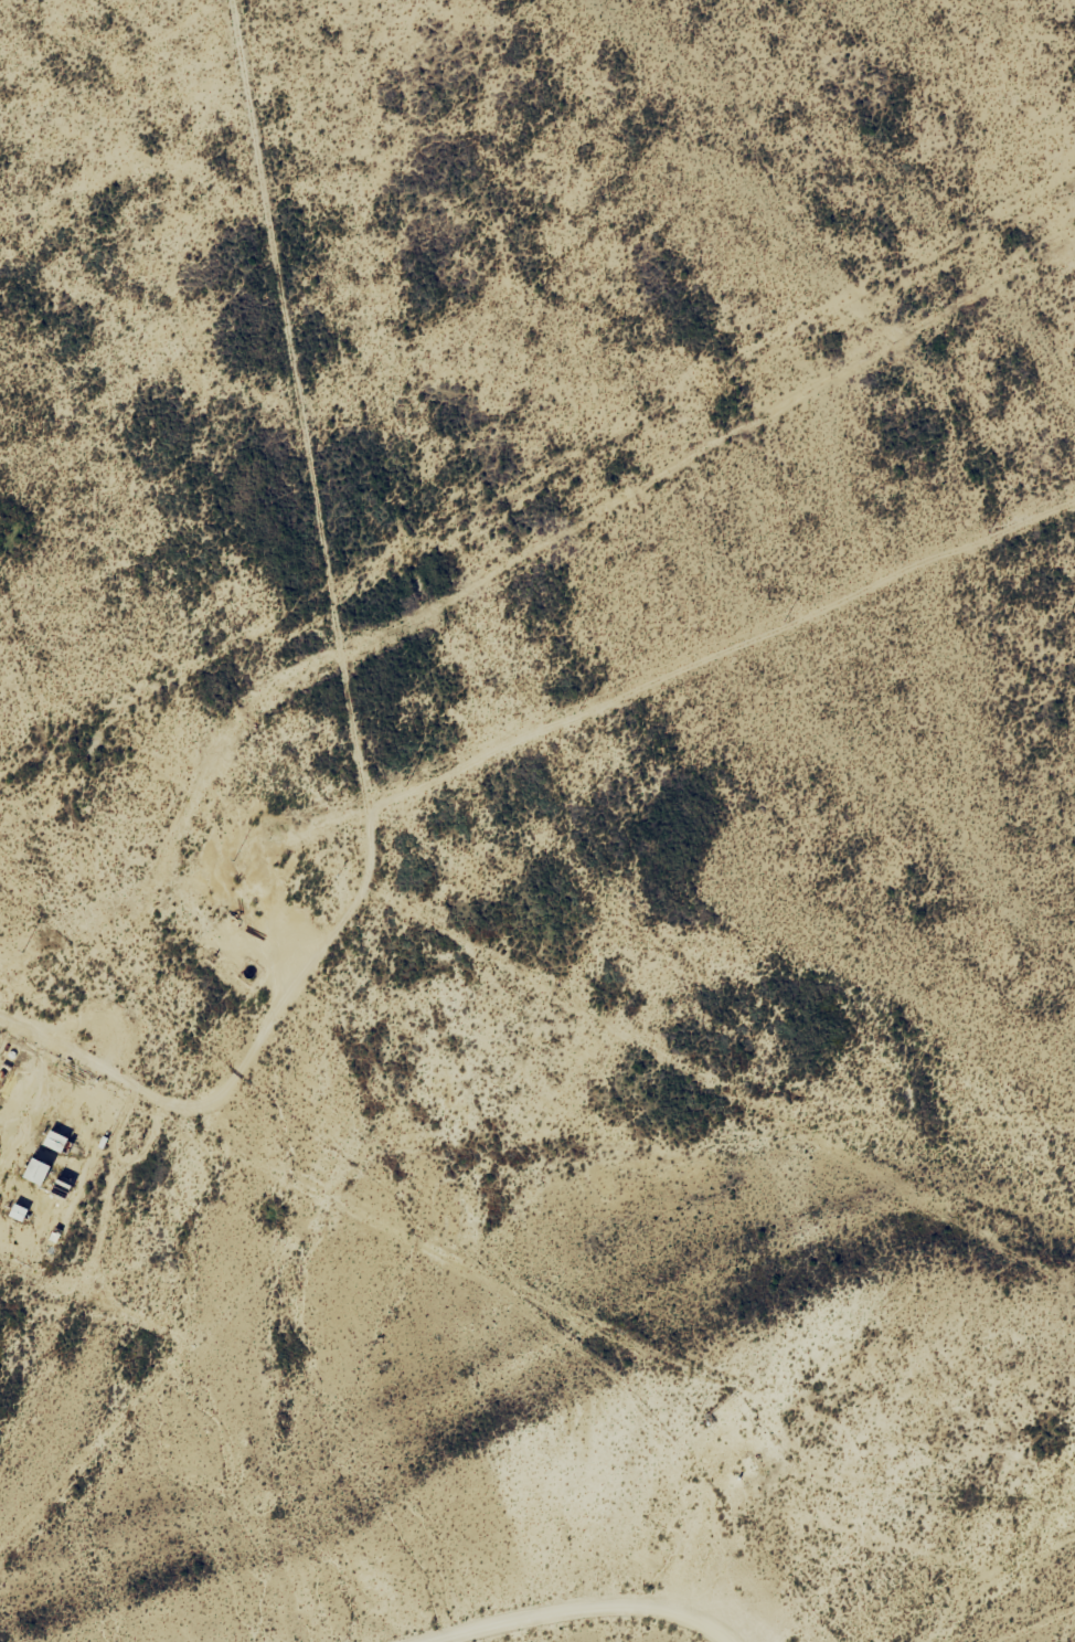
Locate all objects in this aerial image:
power tower: (988, 533)
power tower: (783, 622)
power tower: (577, 711)
power tower: (405, 786)
power tower: (233, 860)
power tower: (21, 953)
building: (56, 1142)
building: (39, 1172)
building: (19, 1214)
road: (643, 1636)

